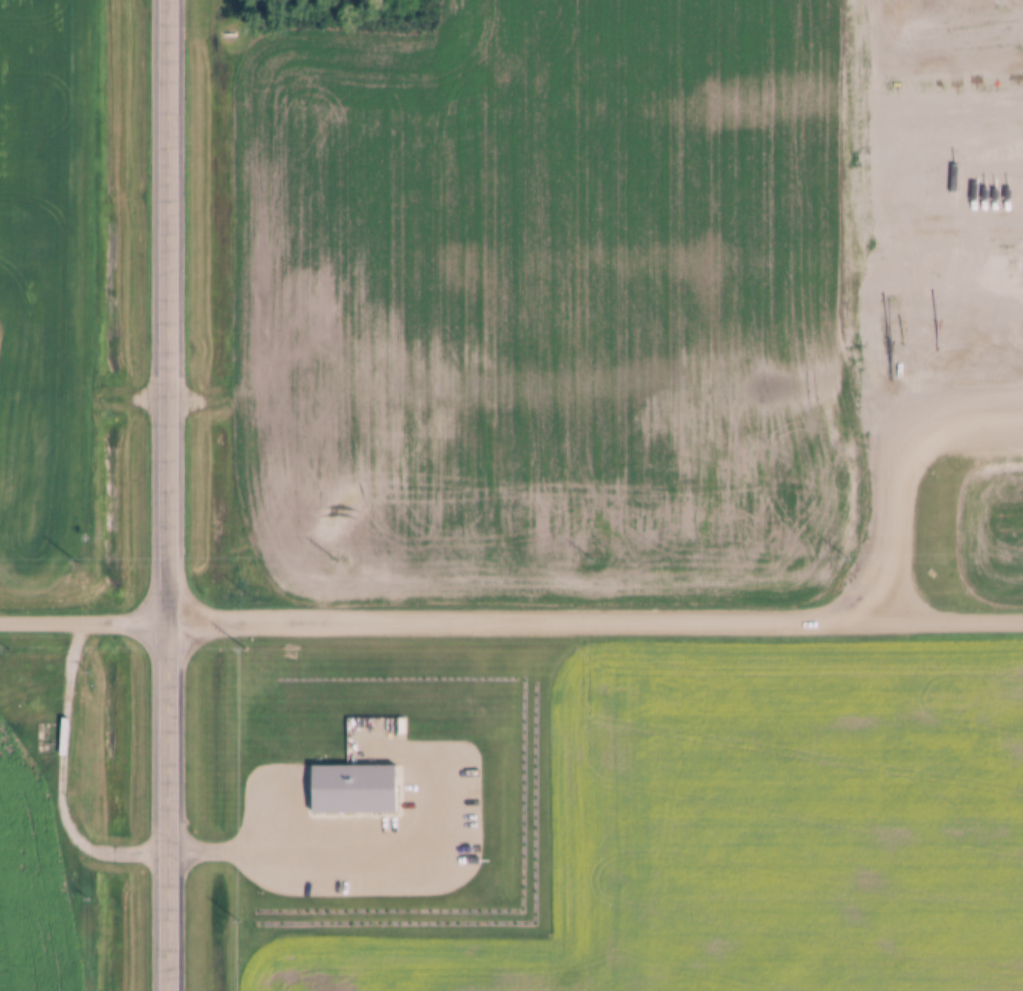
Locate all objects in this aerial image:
road: (163, 495)
road: (511, 620)
road: (61, 775)
road: (250, 851)
building: (327, 892)

